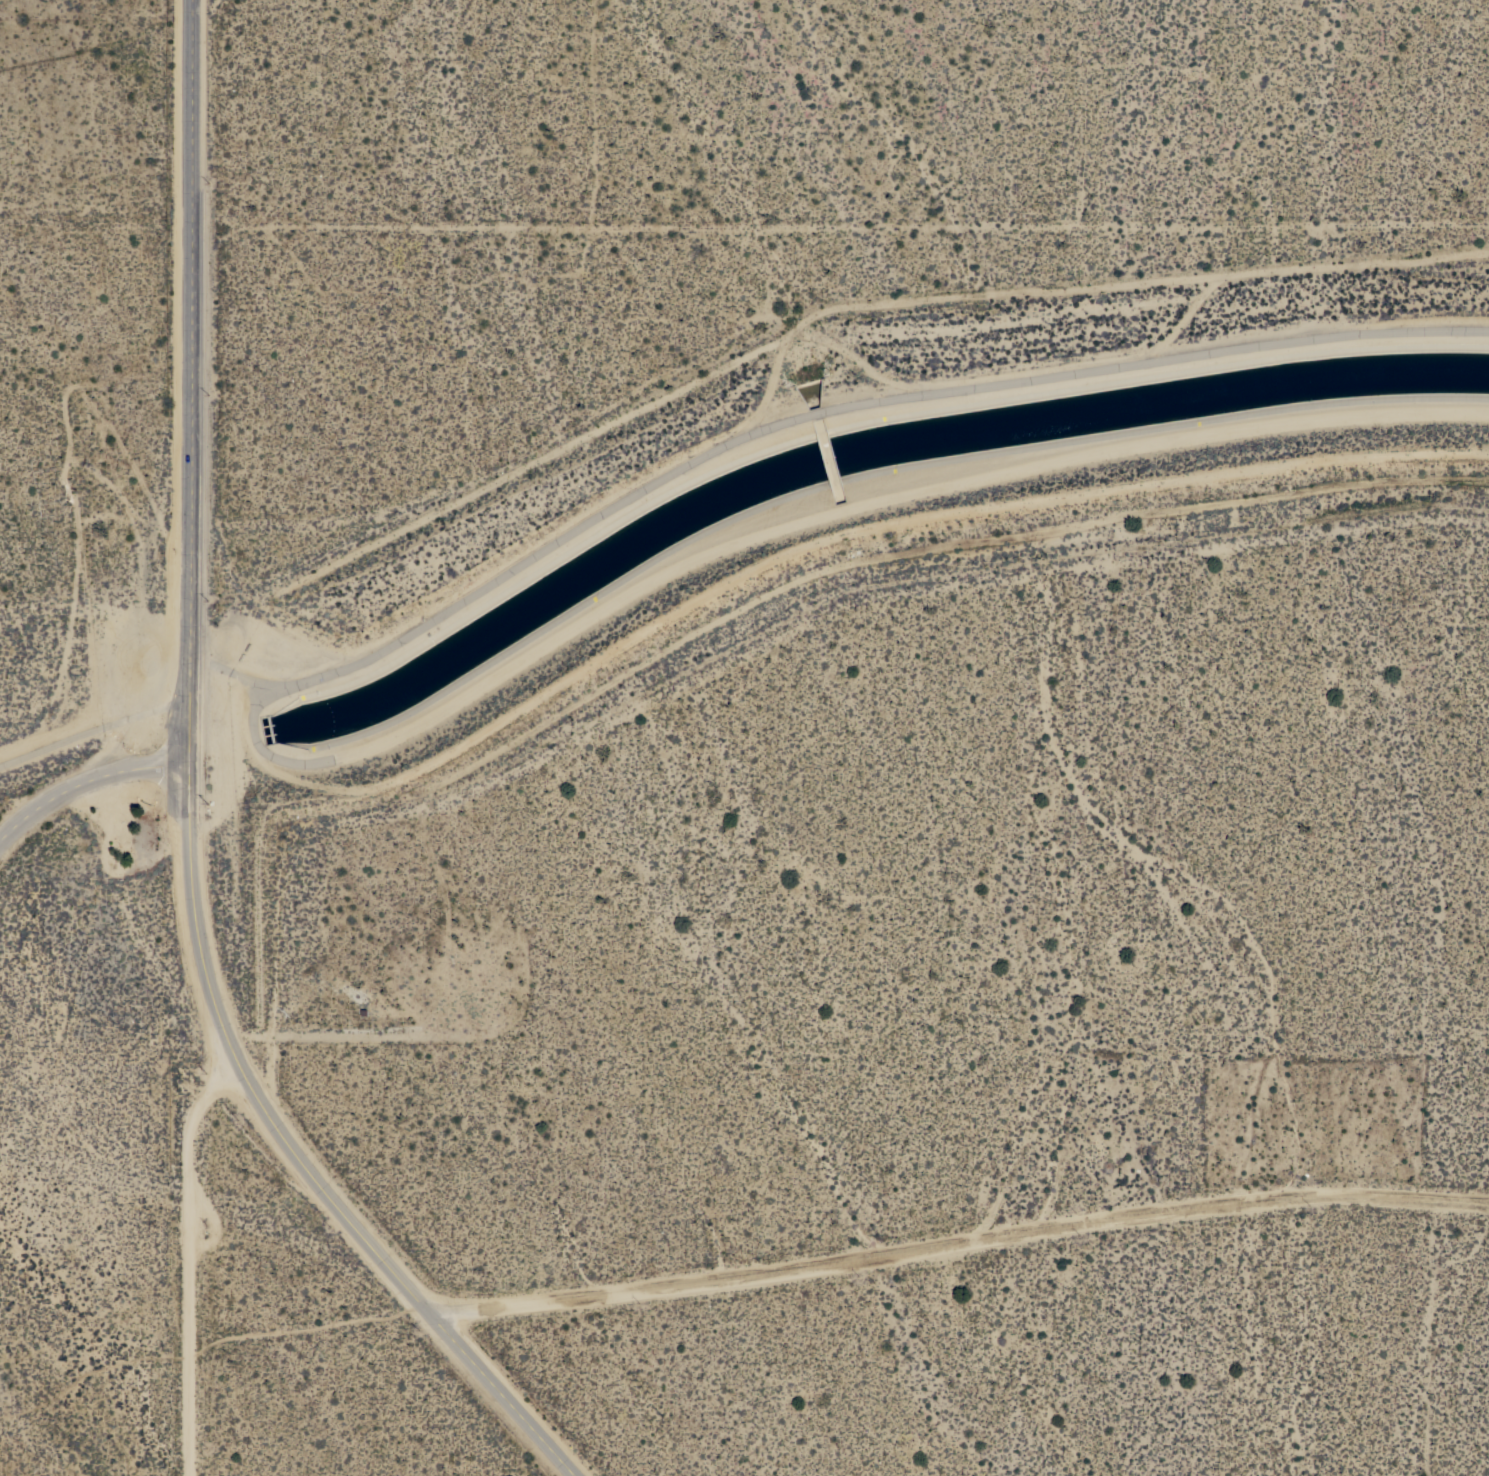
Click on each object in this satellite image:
road: (189, 692)
road: (87, 782)
road: (959, 1243)
road: (186, 1263)
road: (503, 1394)

